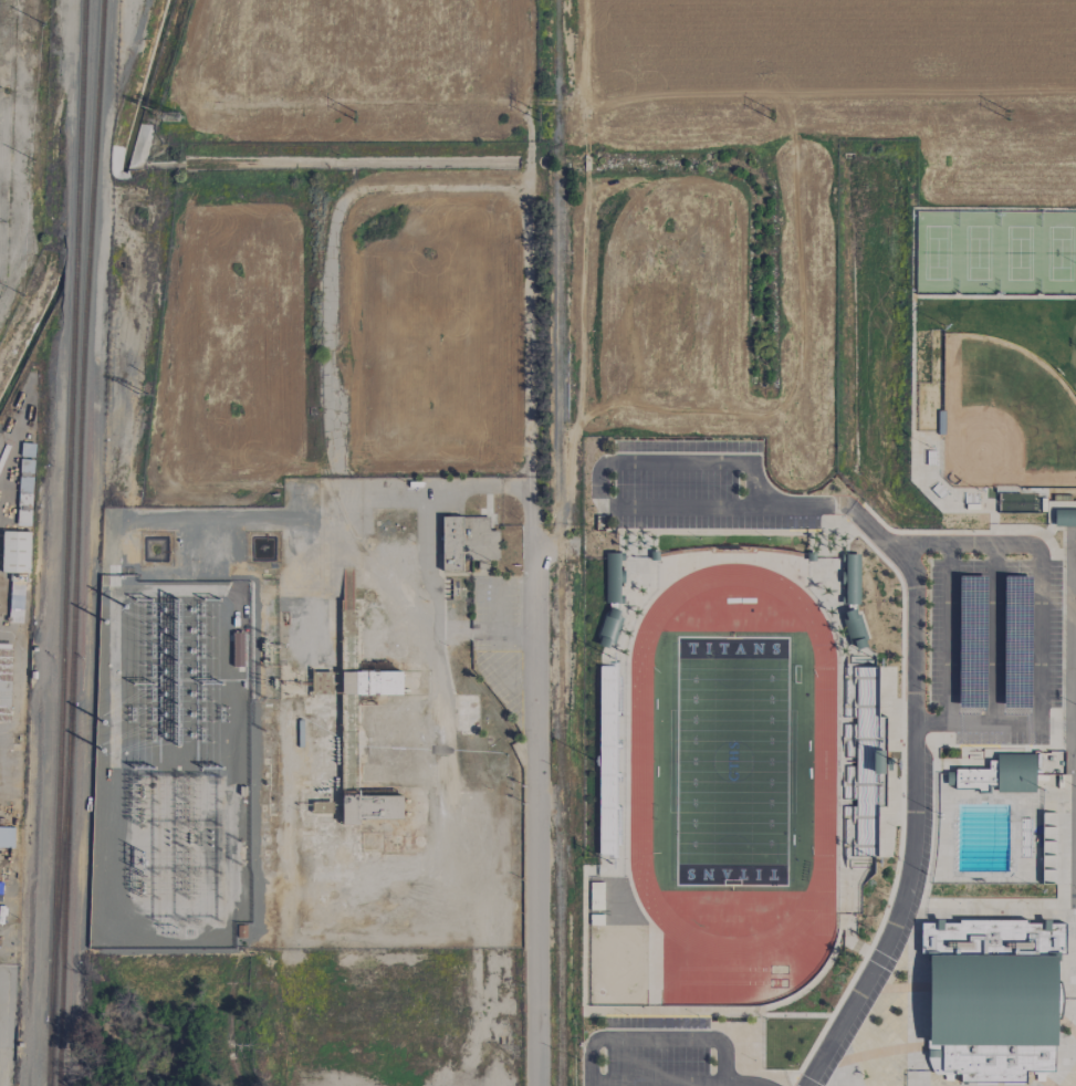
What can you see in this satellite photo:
railway: (96, 91)
road: (527, 230)
railway: (88, 249)
road: (672, 461)
building: (24, 483)
road: (725, 508)
railway: (67, 509)
railway: (79, 510)
building: (1065, 518)
building: (466, 542)
road: (558, 549)
building: (15, 552)
road: (425, 552)
road: (1041, 561)
building: (612, 577)
building: (850, 579)
building: (608, 628)
building: (854, 629)
building: (4, 682)
building: (370, 682)
building: (321, 688)
road: (979, 724)
building: (607, 761)
park: (732, 762)
power substation: (170, 765)
road: (531, 772)
building: (1000, 774)
road: (911, 790)
railway: (560, 800)
building: (321, 807)
building: (368, 807)
railway: (61, 862)
railway: (65, 895)
building: (991, 998)
road: (665, 1036)
railway: (49, 1053)
road: (720, 1083)

